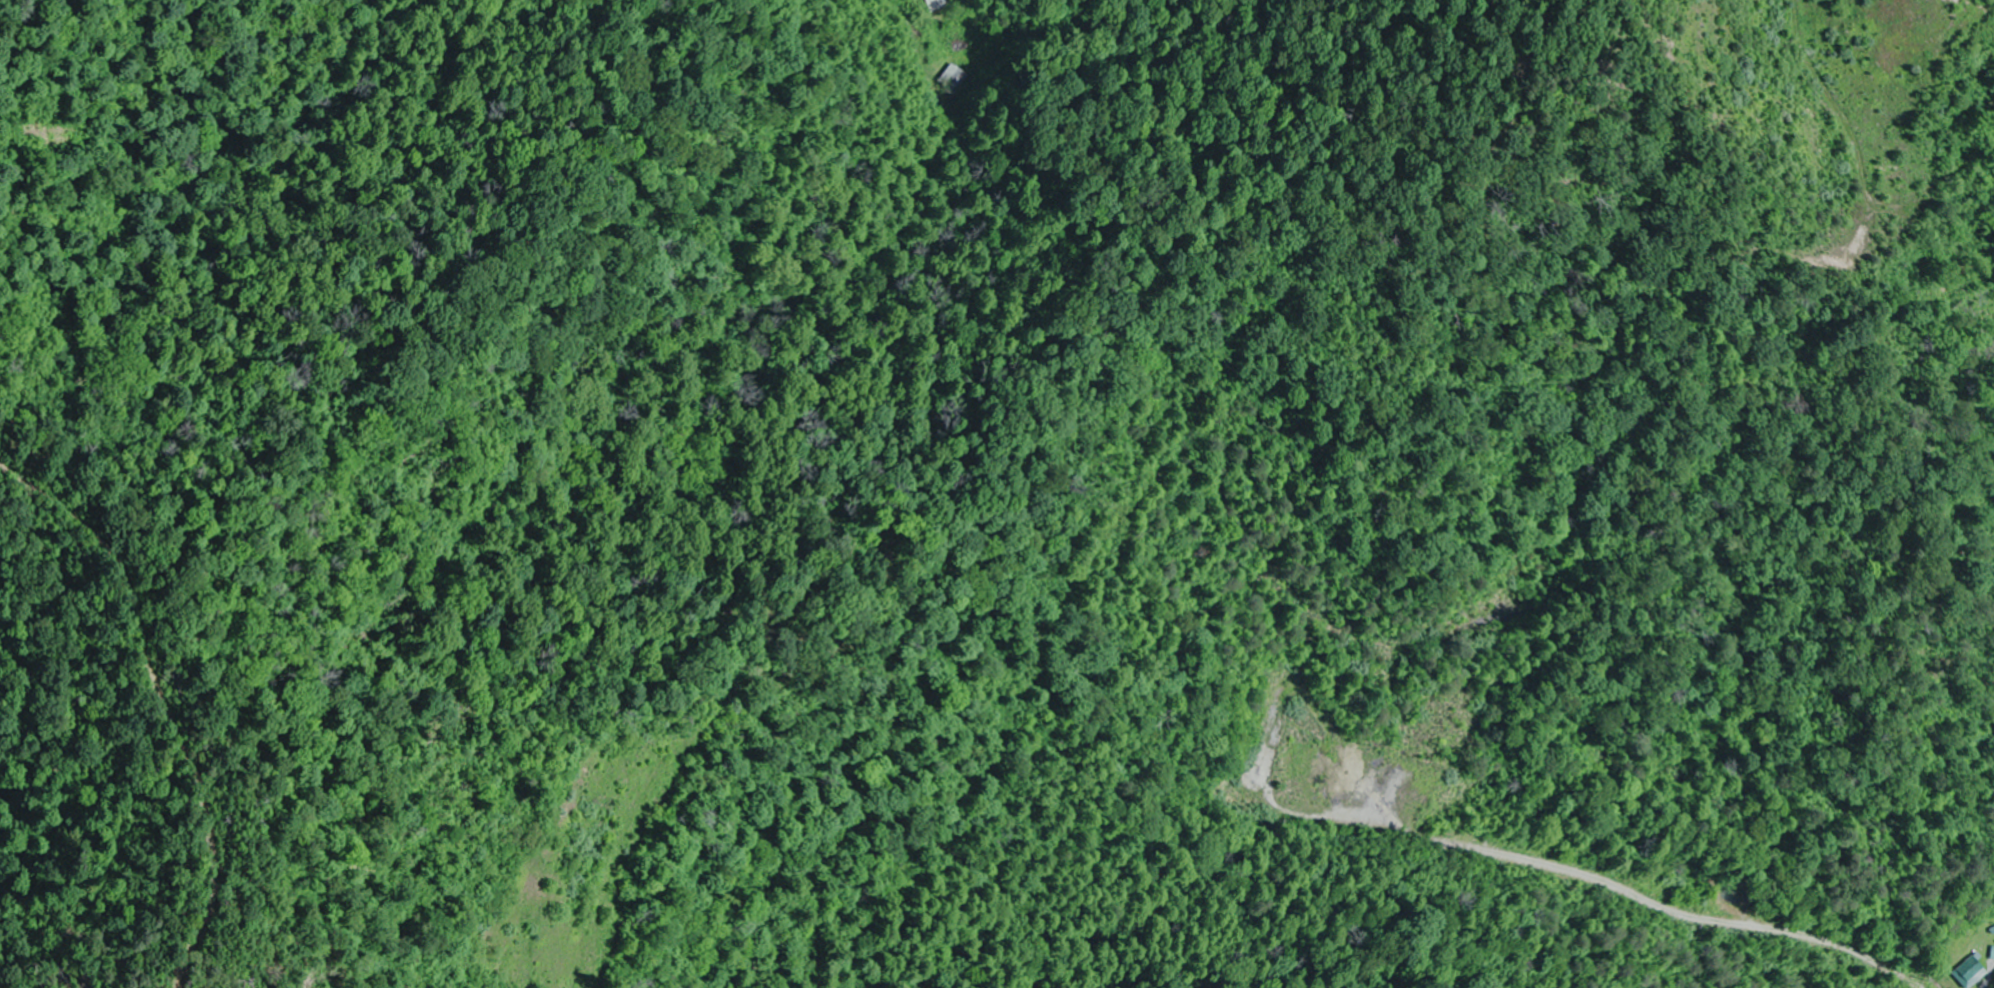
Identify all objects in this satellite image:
building: (937, 4)
road: (905, 18)
building: (951, 79)
road: (1668, 911)
building: (1973, 973)

